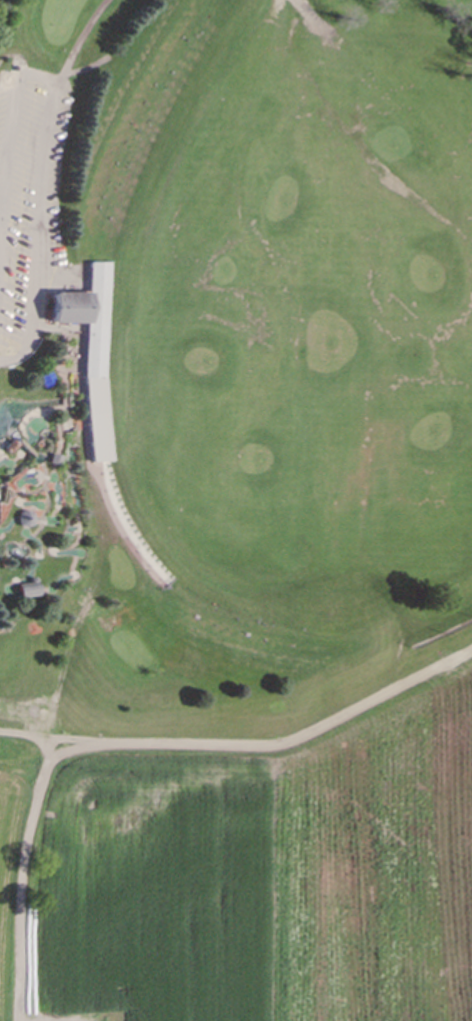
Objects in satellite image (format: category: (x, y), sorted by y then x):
road: (74, 47)
road: (11, 113)
road: (37, 241)
building: (89, 349)
park: (228, 351)
building: (28, 590)
road: (26, 736)
road: (273, 745)
crop: (252, 857)
road: (19, 878)

